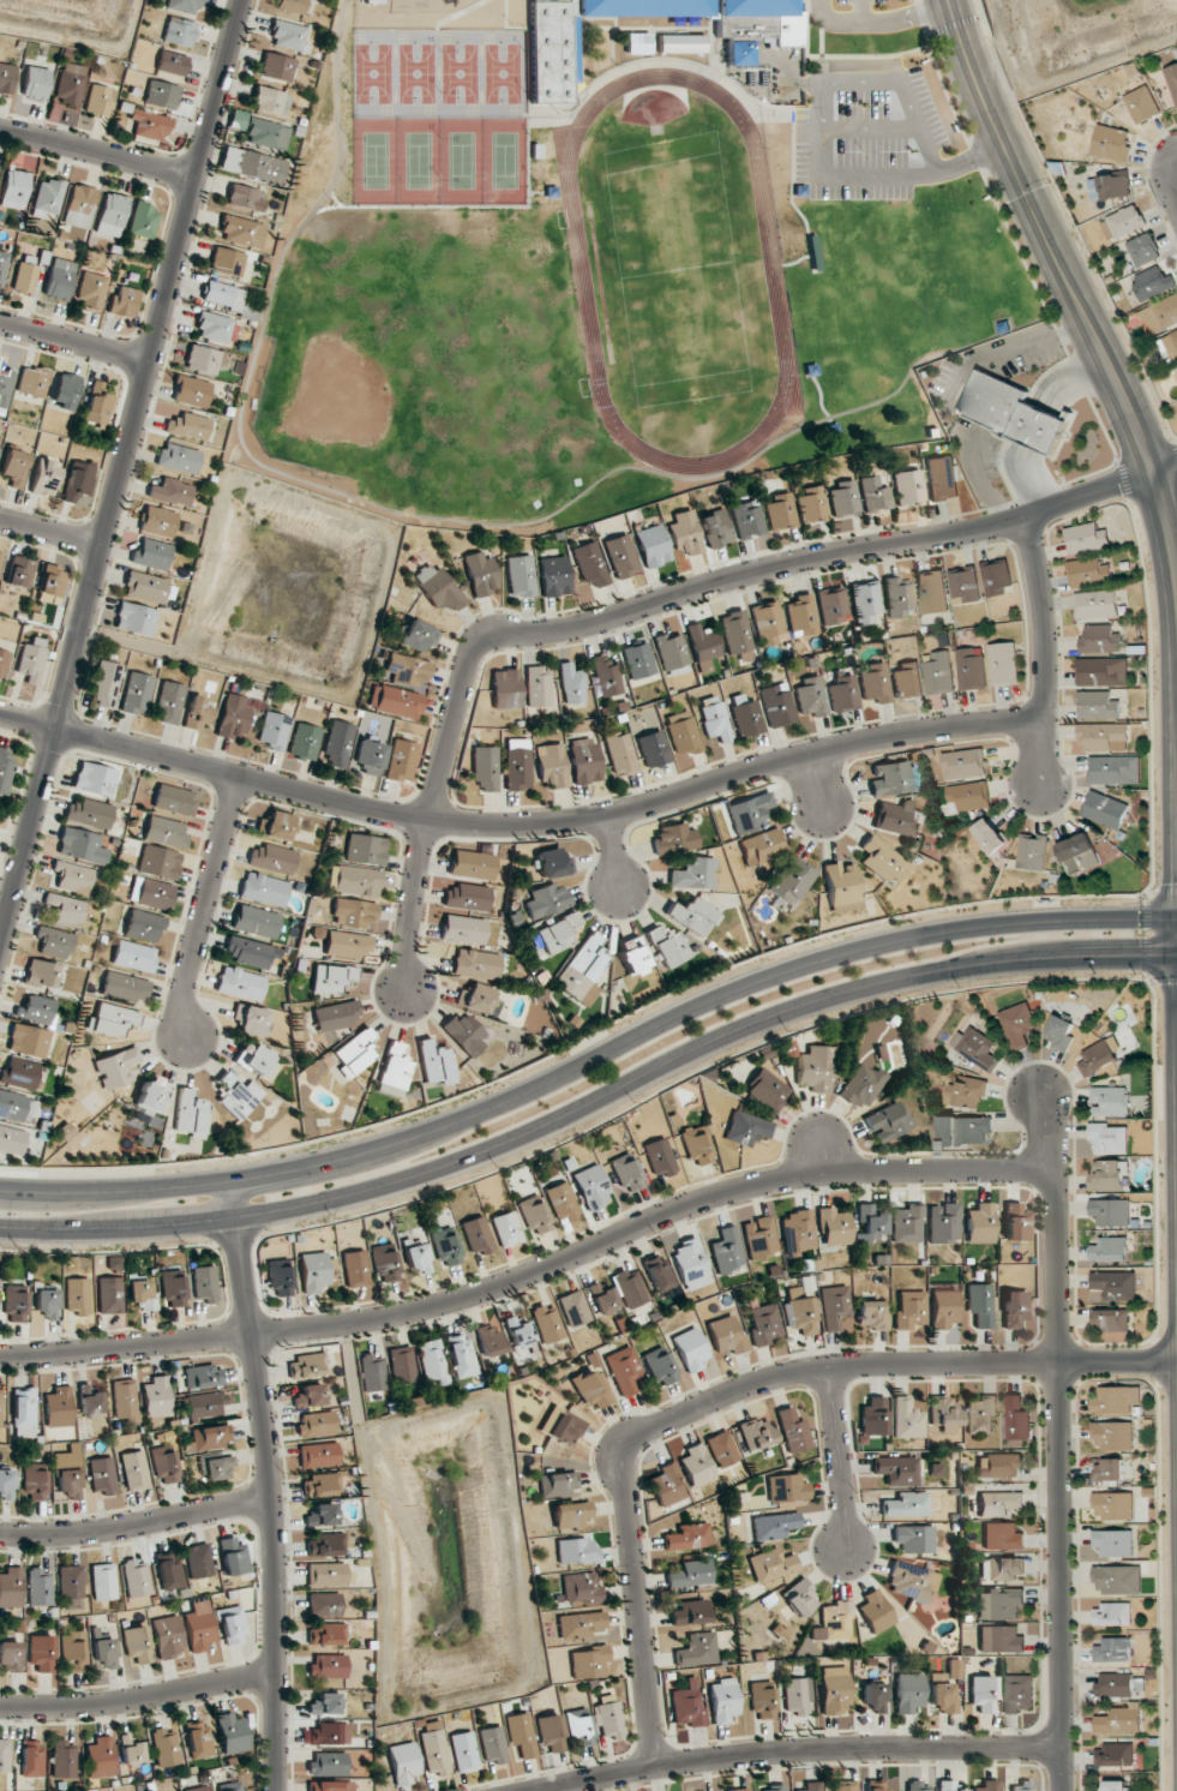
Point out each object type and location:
building: (373, 1)
building: (184, 6)
building: (292, 6)
building: (642, 8)
road: (863, 11)
building: (757, 22)
road: (876, 23)
building: (179, 31)
building: (287, 35)
park: (1069, 40)
building: (638, 43)
building: (681, 43)
building: (602, 46)
building: (552, 49)
building: (738, 53)
building: (172, 62)
building: (276, 67)
building: (6, 78)
building: (1172, 79)
building: (35, 84)
building: (68, 84)
building: (162, 95)
building: (98, 100)
building: (270, 101)
building: (1141, 104)
building: (149, 125)
building: (262, 132)
building: (1111, 143)
road: (98, 155)
building: (252, 164)
building: (1110, 186)
road: (1165, 187)
building: (14, 188)
building: (244, 197)
building: (48, 198)
building: (79, 206)
building: (112, 215)
building: (143, 220)
building: (1127, 221)
building: (241, 232)
building: (1143, 250)
building: (226, 260)
building: (2, 264)
building: (25, 276)
building: (59, 280)
building: (1153, 282)
building: (91, 290)
building: (224, 298)
building: (124, 303)
building: (1161, 315)
road: (1080, 321)
building: (212, 327)
park: (609, 343)
road: (73, 346)
building: (202, 359)
building: (32, 382)
building: (4, 388)
building: (190, 390)
building: (64, 391)
building: (96, 403)
building: (1011, 412)
building: (187, 426)
building: (178, 457)
building: (14, 467)
road: (120, 472)
building: (44, 478)
building: (942, 478)
building: (77, 480)
building: (907, 486)
building: (170, 491)
building: (875, 495)
building: (843, 499)
building: (811, 504)
building: (780, 511)
building: (747, 519)
building: (157, 521)
building: (716, 528)
building: (685, 533)
road: (50, 537)
building: (1087, 538)
building: (653, 545)
building: (151, 553)
building: (621, 556)
building: (0, 557)
building: (590, 563)
building: (19, 571)
building: (1088, 571)
building: (480, 574)
building: (554, 575)
building: (520, 576)
building: (996, 577)
building: (52, 581)
building: (965, 586)
building: (148, 587)
building: (437, 587)
building: (931, 592)
building: (897, 597)
building: (865, 601)
road: (653, 604)
building: (1095, 605)
building: (833, 607)
building: (801, 616)
road: (1041, 617)
building: (136, 618)
building: (768, 624)
building: (735, 631)
building: (418, 635)
building: (1100, 640)
building: (703, 647)
building: (672, 654)
building: (31, 660)
building: (638, 661)
building: (2, 663)
building: (1003, 663)
building: (971, 669)
building: (408, 670)
building: (1103, 672)
building: (939, 673)
building: (606, 676)
building: (907, 679)
building: (104, 683)
building: (572, 683)
building: (876, 683)
building: (538, 687)
building: (505, 689)
building: (843, 693)
building: (137, 694)
building: (810, 696)
building: (395, 701)
building: (168, 702)
building: (776, 705)
building: (1097, 705)
building: (197, 713)
building: (235, 714)
building: (746, 715)
building: (714, 719)
road: (28, 720)
building: (274, 730)
building: (683, 732)
building: (1105, 736)
building: (304, 741)
building: (337, 743)
building: (653, 748)
building: (619, 753)
building: (368, 756)
road: (1040, 757)
building: (583, 760)
building: (401, 761)
building: (963, 763)
building: (517, 765)
building: (552, 765)
building: (485, 767)
building: (5, 768)
building: (1113, 769)
building: (890, 778)
building: (96, 779)
road: (821, 786)
building: (968, 796)
building: (174, 799)
building: (1105, 809)
building: (749, 811)
building: (89, 813)
building: (896, 819)
road: (550, 821)
building: (276, 826)
building: (164, 832)
building: (990, 837)
building: (673, 839)
building: (82, 845)
building: (761, 846)
building: (365, 849)
building: (1032, 851)
building: (1080, 852)
road: (608, 856)
building: (271, 858)
building: (882, 859)
building: (158, 862)
building: (553, 862)
building: (472, 864)
building: (693, 874)
building: (74, 879)
building: (358, 880)
building: (792, 880)
building: (841, 883)
building: (264, 889)
building: (151, 893)
building: (467, 897)
building: (546, 900)
building: (62, 909)
road: (198, 909)
building: (353, 914)
building: (691, 915)
building: (256, 921)
building: (144, 926)
building: (463, 929)
building: (557, 933)
building: (54, 942)
building: (347, 945)
building: (668, 947)
building: (251, 952)
building: (133, 956)
building: (632, 956)
traffic signals: (1136, 959)
building: (476, 964)
building: (582, 971)
building: (41, 972)
building: (331, 977)
building: (240, 983)
building: (125, 987)
building: (476, 998)
building: (37, 1010)
building: (335, 1016)
building: (251, 1019)
building: (112, 1020)
building: (1017, 1023)
building: (464, 1032)
building: (1059, 1032)
building: (28, 1041)
building: (977, 1047)
building: (355, 1053)
road: (589, 1058)
building: (1097, 1058)
building: (254, 1059)
building: (436, 1062)
building: (115, 1067)
building: (815, 1068)
building: (394, 1071)
building: (19, 1073)
building: (861, 1085)
building: (767, 1089)
building: (968, 1092)
building: (151, 1095)
building: (238, 1096)
building: (1109, 1101)
road: (591, 1104)
building: (17, 1107)
building: (190, 1114)
building: (887, 1121)
building: (746, 1128)
building: (966, 1130)
building: (11, 1139)
building: (1109, 1139)
building: (697, 1145)
road: (819, 1155)
building: (659, 1157)
building: (626, 1173)
building: (1106, 1175)
building: (591, 1186)
building: (562, 1202)
building: (1110, 1211)
building: (534, 1215)
building: (872, 1220)
building: (1016, 1222)
building: (943, 1223)
building: (979, 1223)
building: (906, 1224)
building: (834, 1227)
building: (506, 1228)
building: (799, 1232)
building: (476, 1235)
building: (759, 1238)
building: (445, 1247)
building: (727, 1250)
building: (1110, 1250)
building: (416, 1256)
building: (384, 1262)
building: (691, 1264)
building: (355, 1269)
building: (313, 1271)
road: (527, 1274)
building: (660, 1274)
building: (280, 1277)
building: (204, 1283)
building: (1115, 1284)
building: (172, 1288)
building: (630, 1288)
building: (140, 1293)
building: (109, 1295)
building: (77, 1296)
building: (601, 1296)
building: (47, 1302)
building: (14, 1304)
building: (979, 1305)
building: (834, 1306)
building: (943, 1307)
building: (1014, 1307)
building: (574, 1308)
building: (909, 1310)
building: (800, 1312)
building: (872, 1314)
building: (1111, 1319)
building: (547, 1323)
building: (763, 1324)
building: (520, 1332)
building: (726, 1336)
building: (490, 1340)
building: (690, 1349)
building: (461, 1355)
building: (433, 1361)
building: (402, 1365)
building: (306, 1366)
building: (660, 1366)
building: (624, 1370)
building: (373, 1372)
building: (203, 1376)
building: (591, 1390)
road: (729, 1390)
building: (310, 1395)
building: (157, 1397)
building: (1115, 1398)
building: (125, 1400)
building: (90, 1402)
building: (204, 1404)
building: (59, 1407)
building: (0, 1408)
building: (944, 1412)
building: (24, 1413)
building: (981, 1415)
building: (872, 1416)
building: (907, 1419)
building: (1017, 1419)
building: (316, 1424)
building: (560, 1426)
building: (792, 1430)
building: (756, 1433)
building: (1112, 1434)
building: (211, 1437)
road: (1051, 1437)
building: (722, 1449)
building: (318, 1455)
road: (837, 1463)
building: (998, 1464)
building: (166, 1466)
building: (696, 1466)
building: (216, 1467)
building: (896, 1469)
building: (1107, 1469)
building: (134, 1470)
building: (102, 1475)
building: (34, 1480)
road: (270, 1482)
building: (558, 1482)
building: (68, 1484)
building: (6, 1485)
building: (322, 1485)
building: (667, 1485)
building: (786, 1488)
building: (998, 1503)
building: (906, 1504)
building: (1113, 1505)
building: (571, 1514)
building: (322, 1515)
road: (137, 1525)
building: (774, 1526)
building: (689, 1537)
building: (1002, 1537)
building: (914, 1539)
building: (1113, 1543)
building: (325, 1545)
building: (576, 1550)
building: (233, 1557)
building: (198, 1561)
building: (771, 1564)
building: (1002, 1569)
building: (168, 1570)
building: (690, 1574)
building: (328, 1575)
building: (136, 1579)
building: (1118, 1579)
building: (103, 1581)
building: (912, 1581)
building: (70, 1582)
building: (11, 1587)
building: (38, 1587)
building: (581, 1588)
building: (799, 1598)
building: (998, 1604)
building: (324, 1605)
building: (875, 1611)
building: (690, 1612)
building: (1112, 1613)
building: (833, 1622)
building: (581, 1624)
building: (232, 1625)
building: (200, 1627)
building: (326, 1635)
building: (168, 1636)
building: (1001, 1639)
building: (137, 1645)
building: (697, 1649)
building: (1113, 1649)
building: (73, 1651)
building: (103, 1651)
building: (41, 1652)
building: (10, 1657)
building: (588, 1661)
building: (328, 1666)
building: (1115, 1684)
building: (834, 1690)
building: (908, 1693)
building: (1017, 1693)
building: (983, 1694)
building: (795, 1696)
building: (875, 1696)
road: (138, 1697)
building: (943, 1697)
building: (722, 1700)
building: (762, 1700)
building: (325, 1703)
building: (686, 1705)
building: (608, 1718)
building: (1119, 1719)
building: (578, 1727)
building: (550, 1732)
building: (232, 1733)
building: (328, 1733)
building: (521, 1736)
building: (198, 1739)
building: (493, 1744)
building: (166, 1747)
road: (798, 1749)
building: (131, 1751)
building: (434, 1751)
building: (463, 1751)
building: (4, 1755)
building: (1113, 1755)
building: (100, 1757)
building: (31, 1759)
building: (62, 1759)
building: (403, 1762)
building: (328, 1763)
building: (329, 1785)
building: (842, 1785)
building: (987, 1785)
building: (1021, 1785)
building: (229, 1786)
building: (811, 1786)
building: (877, 1786)
building: (918, 1786)
building: (949, 1786)
building: (1115, 1786)
building: (771, 1787)
building: (199, 1789)
building: (738, 1790)

